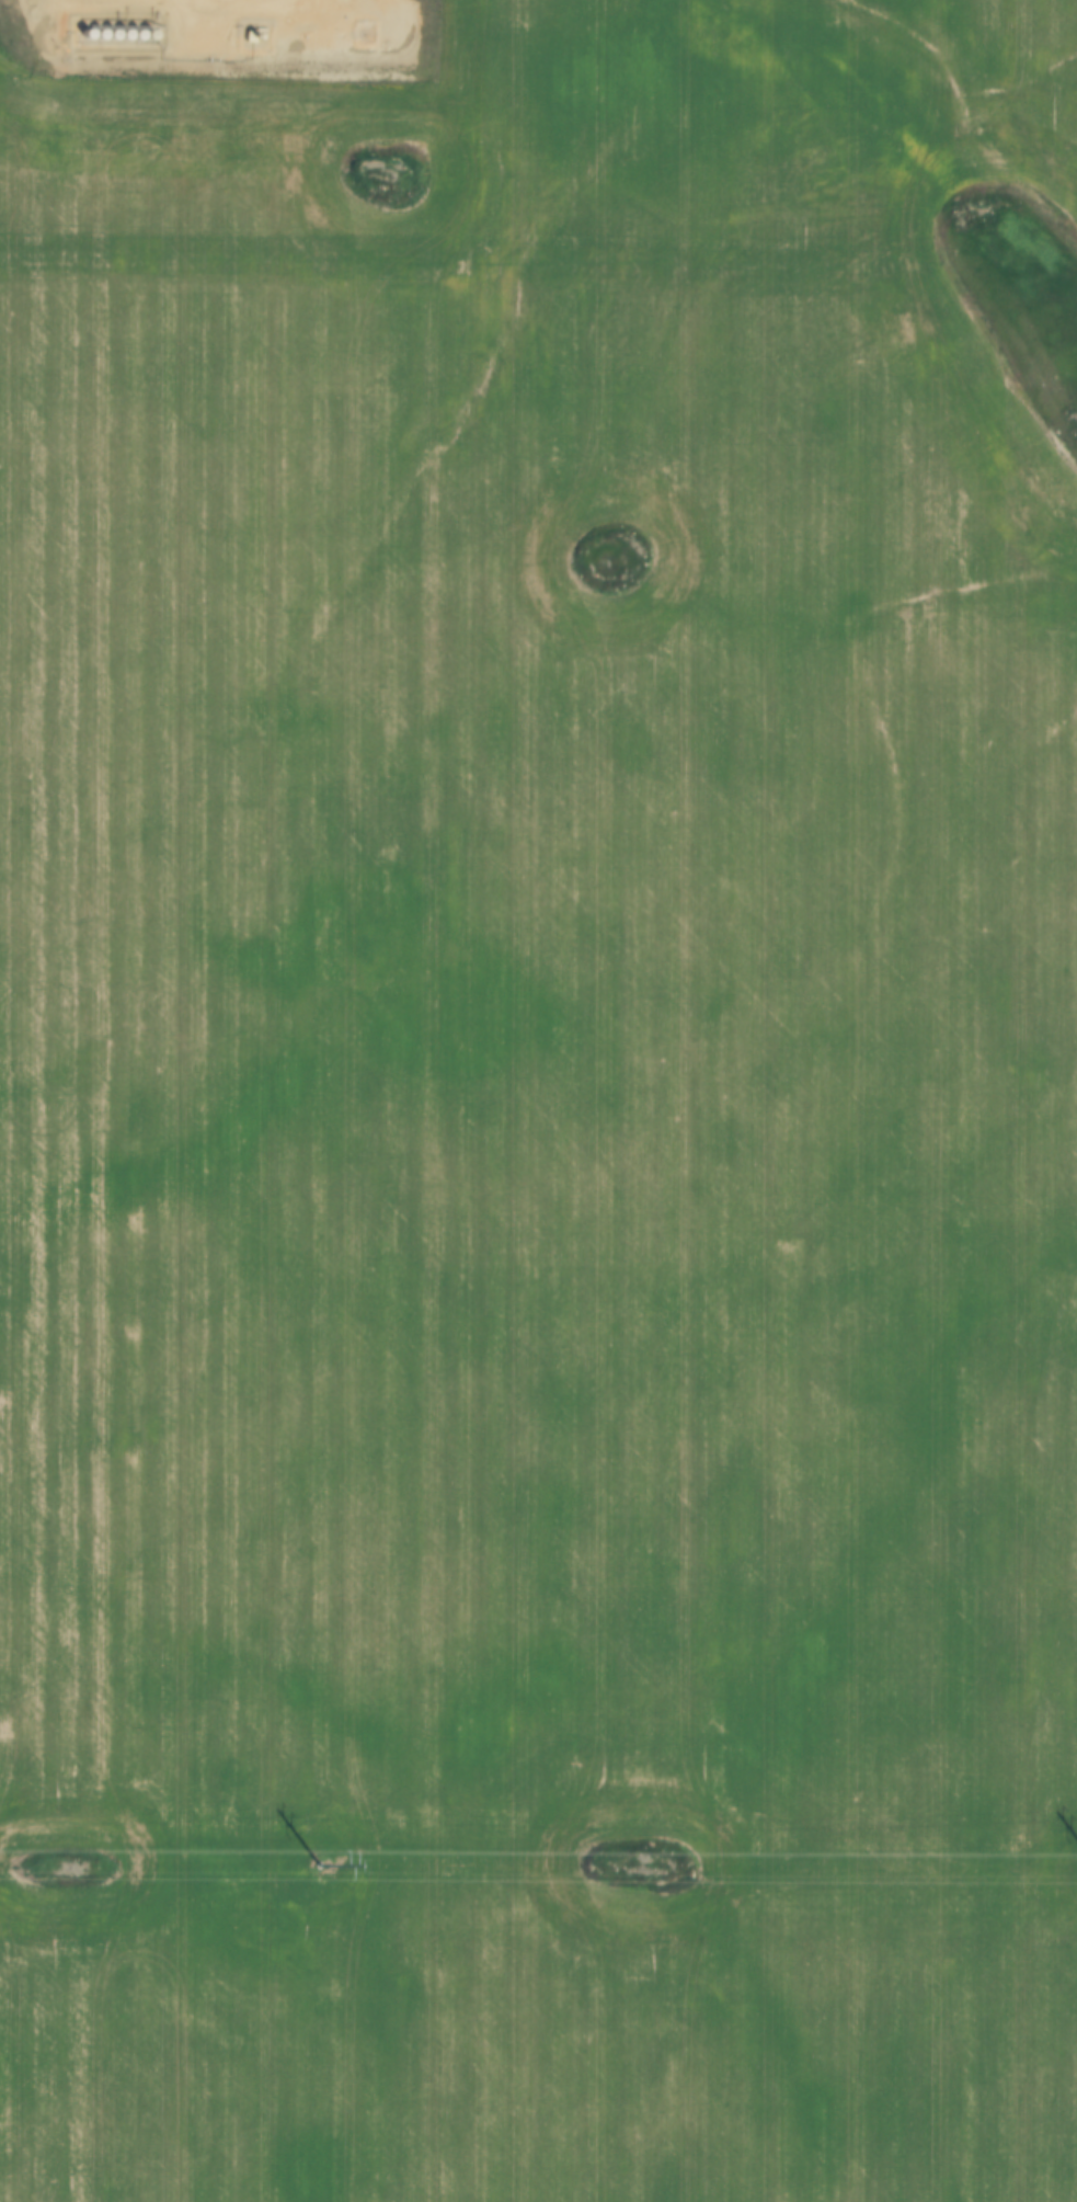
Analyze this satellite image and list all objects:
power tower: (319, 1863)

